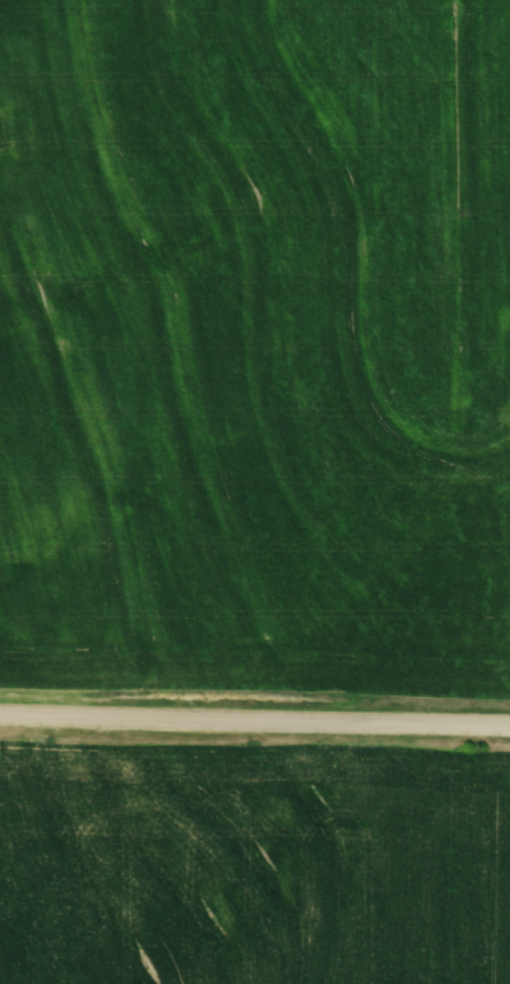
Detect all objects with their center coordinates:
road: (255, 721)

